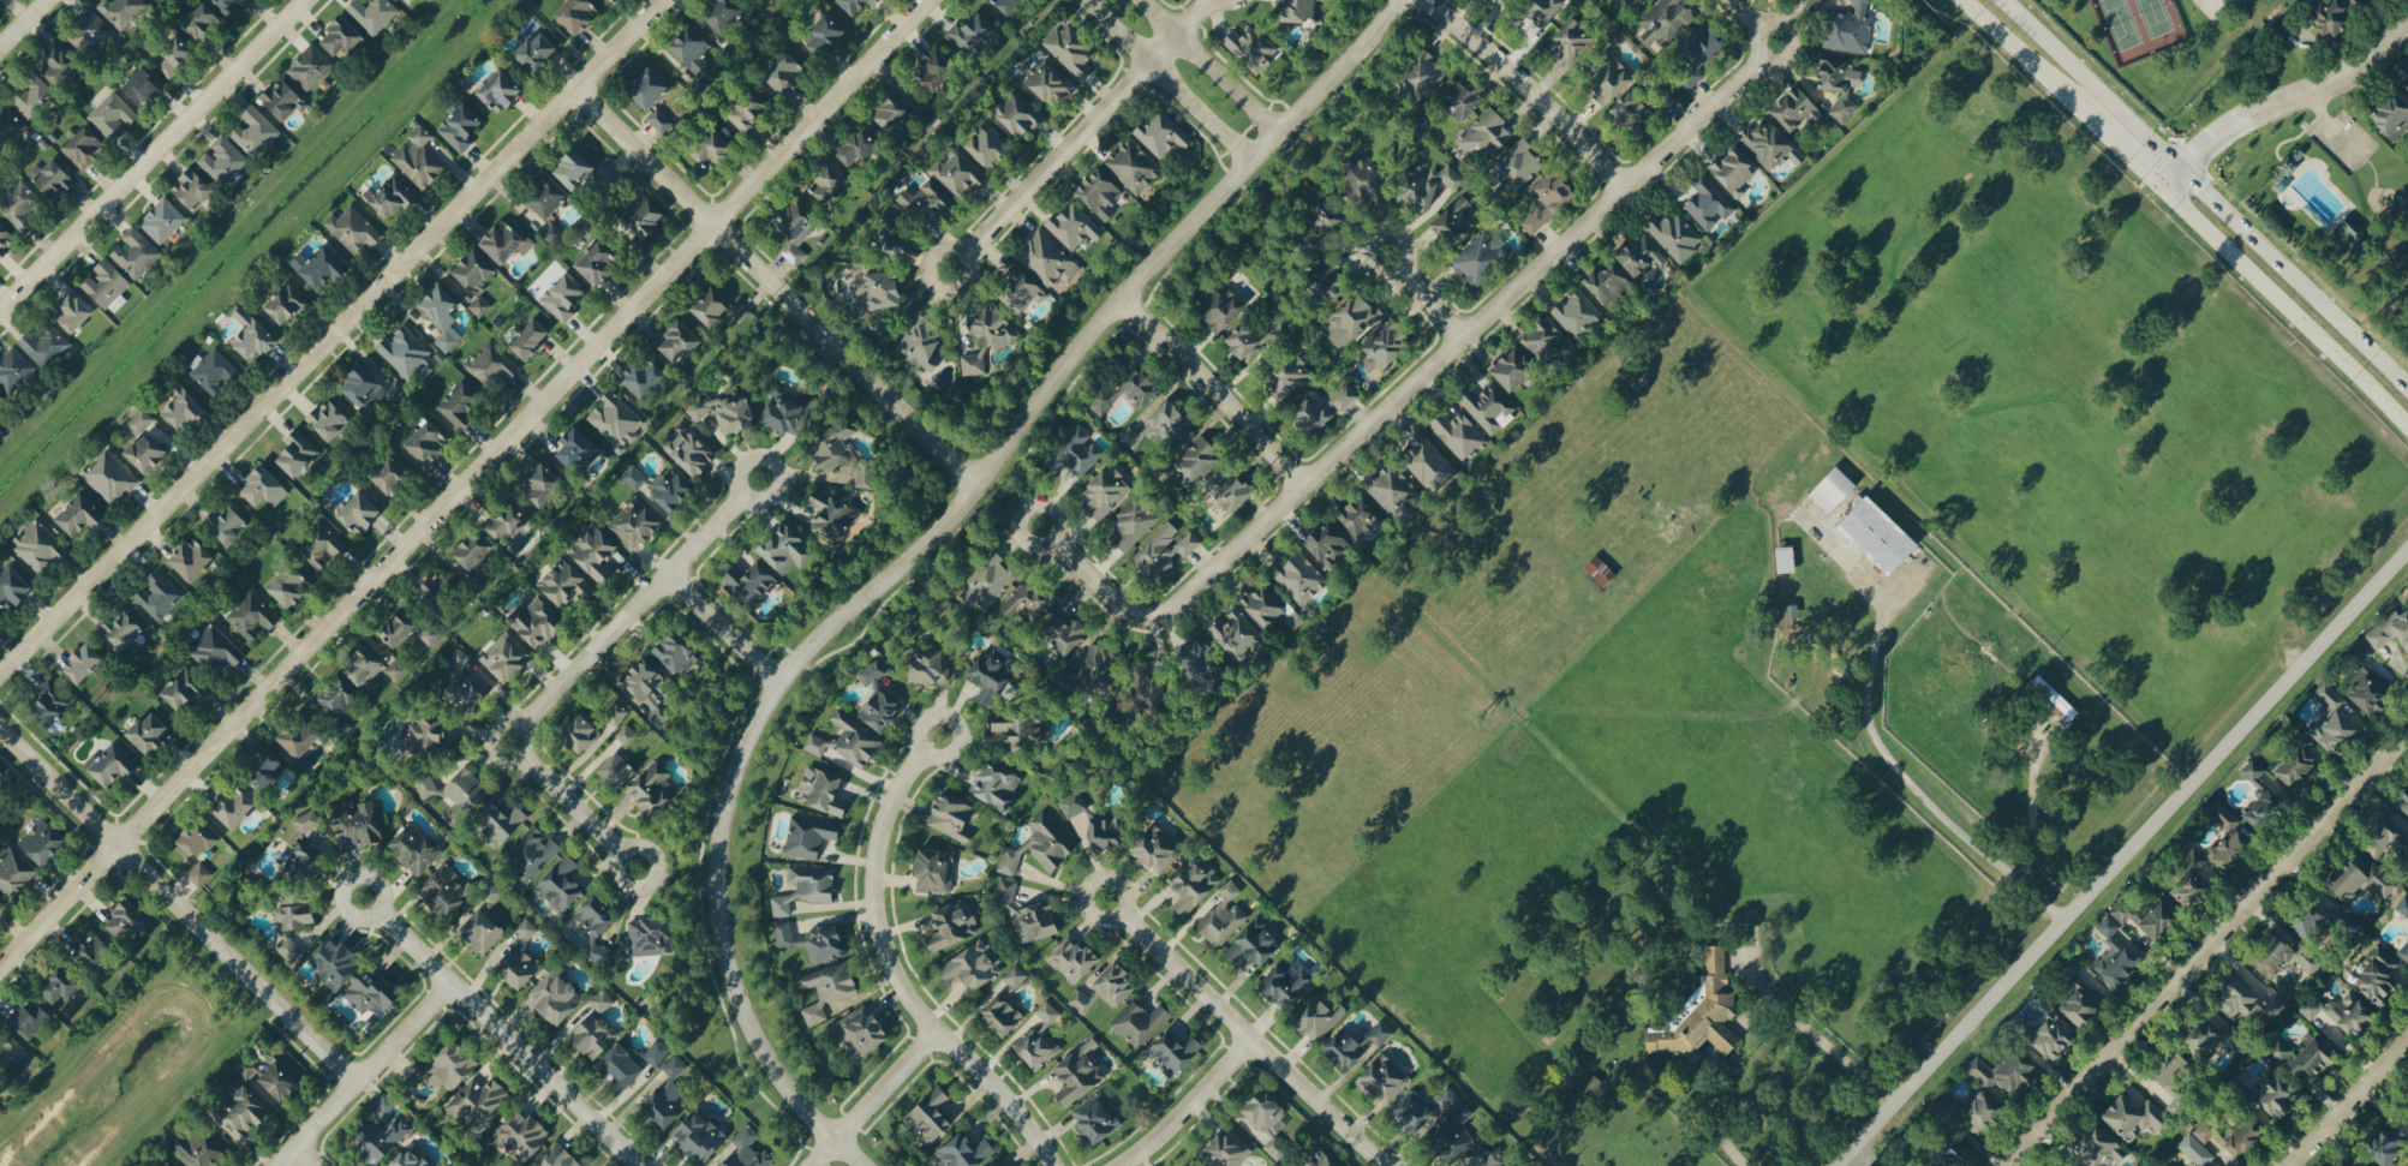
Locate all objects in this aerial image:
building: (398, 0)
building: (1498, 0)
building: (2377, 0)
building: (1620, 1)
building: (1645, 1)
building: (1811, 1)
building: (232, 4)
building: (859, 5)
building: (1009, 5)
building: (1299, 10)
building: (121, 11)
building: (1537, 11)
building: (579, 13)
building: (727, 13)
building: (374, 14)
building: (2337, 16)
building: (1669, 20)
road: (1751, 20)
building: (201, 23)
road: (28, 26)
building: (1850, 29)
building: (90, 32)
building: (973, 34)
building: (343, 36)
building: (827, 36)
park: (2156, 40)
building: (1571, 42)
building: (692, 46)
building: (1251, 48)
road: (2014, 48)
building: (1071, 50)
building: (538, 52)
building: (1701, 53)
building: (175, 55)
building: (59, 64)
building: (311, 67)
road: (1207, 67)
building: (938, 68)
building: (788, 73)
building: (1426, 77)
road: (1169, 80)
building: (1050, 82)
building: (1612, 82)
building: (1840, 82)
road: (2328, 83)
building: (143, 86)
building: (651, 88)
building: (501, 90)
road: (1526, 90)
building: (283, 98)
building: (1460, 98)
building: (34, 100)
building: (1631, 109)
building: (749, 110)
building: (1799, 110)
building: (894, 112)
building: (1018, 114)
building: (113, 115)
building: (2394, 115)
building: (659, 119)
building: (11, 122)
road: (1088, 126)
building: (461, 127)
building: (255, 131)
building: (1486, 132)
building: (1164, 134)
road: (2115, 144)
building: (860, 145)
building: (1768, 145)
building: (990, 147)
building: (713, 148)
building: (84, 149)
traffic signals: (2198, 150)
road: (2195, 153)
road: (153, 155)
building: (419, 159)
building: (225, 160)
building: (1518, 166)
building: (1135, 167)
building: (576, 169)
building: (1735, 171)
traffic signals: (2143, 171)
building: (610, 173)
building: (958, 174)
building: (54, 180)
building: (1366, 180)
building: (830, 181)
traffic signals: (2205, 185)
building: (193, 189)
road: (2210, 190)
building: (1101, 193)
building: (392, 196)
building: (550, 197)
building: (1550, 199)
building: (926, 203)
building: (1710, 203)
building: (20, 204)
park: (2335, 209)
building: (646, 216)
building: (1327, 217)
building: (163, 221)
building: (1458, 222)
building: (1075, 228)
building: (2353, 228)
building: (354, 229)
building: (797, 229)
building: (1675, 235)
building: (896, 237)
building: (6, 239)
building: (509, 240)
building: (136, 252)
building: (1641, 256)
building: (1483, 257)
building: (1047, 259)
building: (599, 263)
building: (323, 267)
building: (476, 270)
road: (964, 281)
building: (1331, 282)
building: (1611, 283)
building: (108, 286)
road: (776, 288)
building: (1022, 288)
building: (886, 289)
building: (564, 297)
road: (1424, 298)
building: (288, 303)
building: (480, 306)
building: (721, 307)
building: (1223, 310)
road: (2284, 310)
building: (74, 312)
building: (1579, 313)
building: (443, 317)
building: (1352, 319)
building: (993, 327)
road: (1468, 334)
building: (253, 336)
road: (333, 339)
building: (531, 339)
building: (681, 341)
building: (1249, 341)
building: (1548, 341)
building: (922, 342)
building: (46, 346)
building: (1387, 346)
building: (405, 352)
building: (492, 364)
building: (974, 364)
building: (1514, 369)
building: (214, 370)
building: (16, 372)
building: (1292, 373)
building: (645, 377)
building: (1141, 387)
building: (371, 389)
road: (1215, 391)
building: (1344, 400)
building: (2, 402)
building: (1103, 402)
building: (461, 405)
building: (185, 407)
building: (1490, 409)
building: (1313, 411)
building: (787, 413)
building: (728, 414)
building: (329, 419)
building: (141, 421)
building: (616, 421)
building: (1163, 426)
building: (402, 427)
building: (1460, 435)
building: (426, 442)
building: (835, 444)
building: (578, 449)
building: (1081, 452)
building: (147, 453)
building: (693, 453)
building: (299, 454)
building: (1199, 461)
building: (1432, 464)
building: (392, 474)
building: (867, 476)
building: (110, 477)
road: (464, 483)
building: (544, 485)
building: (662, 486)
building: (265, 488)
building: (1231, 490)
building: (1835, 490)
building: (1107, 492)
building: (1396, 494)
road: (765, 498)
road: (1054, 510)
building: (362, 513)
building: (80, 515)
building: (833, 516)
building: (1363, 518)
building: (510, 522)
building: (1135, 524)
building: (226, 525)
building: (635, 525)
building: (1880, 536)
building: (1330, 545)
building: (321, 546)
building: (40, 548)
building: (788, 549)
building: (1166, 549)
building: (474, 552)
building: (597, 552)
road: (919, 552)
building: (192, 560)
building: (1788, 560)
crop: (2167, 568)
building: (1602, 572)
building: (1301, 578)
building: (754, 582)
building: (988, 582)
building: (567, 584)
building: (291, 587)
building: (14, 588)
building: (441, 588)
road: (1100, 588)
building: (160, 596)
building: (1030, 603)
building: (1269, 608)
building: (252, 616)
road: (626, 620)
building: (538, 623)
road: (725, 628)
building: (123, 629)
building: (400, 630)
building: (2390, 632)
building: (1065, 633)
building: (431, 635)
building: (217, 651)
building: (676, 651)
building: (506, 660)
building: (86, 664)
building: (364, 665)
building: (931, 666)
building: (1207, 666)
building: (1100, 668)
building: (396, 670)
building: (992, 676)
building: (2367, 681)
building: (466, 683)
building: (1153, 689)
building: (185, 690)
building: (649, 690)
building: (879, 699)
building: (340, 700)
building: (50, 704)
building: (616, 714)
building: (2337, 722)
building: (1022, 730)
building: (581, 731)
building: (149, 734)
building: (423, 735)
building: (627, 735)
building: (300, 739)
building: (849, 741)
road: (1881, 748)
building: (113, 766)
building: (2298, 767)
building: (267, 770)
building: (620, 770)
building: (1, 775)
building: (998, 785)
building: (428, 787)
building: (655, 790)
building: (826, 793)
building: (465, 796)
building: (2263, 797)
building: (1074, 805)
road: (573, 806)
road: (2031, 806)
building: (2404, 806)
building: (234, 808)
building: (954, 818)
building: (307, 823)
building: (502, 824)
building: (358, 825)
building: (1109, 833)
building: (811, 836)
building: (2231, 839)
building: (2384, 839)
building: (198, 841)
building: (42, 842)
building: (1040, 847)
building: (416, 849)
building: (1158, 850)
building: (532, 854)
road: (2120, 857)
building: (305, 863)
building: (14, 871)
building: (936, 872)
building: (201, 875)
building: (2364, 878)
building: (813, 884)
building: (562, 885)
building: (1194, 885)
building: (2194, 886)
building: (448, 891)
building: (492, 895)
building: (1, 905)
building: (2403, 905)
road: (178, 907)
building: (782, 907)
building: (298, 911)
building: (2127, 911)
building: (1224, 916)
building: (2163, 920)
building: (2314, 920)
building: (127, 922)
building: (952, 926)
building: (482, 932)
building: (652, 937)
building: (815, 941)
building: (1255, 943)
building: (288, 947)
road: (2206, 949)
building: (2404, 950)
building: (92, 952)
building: (2117, 955)
building: (2287, 956)
building: (521, 958)
building: (1074, 958)
building: (336, 964)
building: (975, 964)
road: (891, 969)
building: (2380, 976)
building: (1289, 983)
building: (61, 986)
building: (1107, 989)
building: (375, 993)
building: (557, 997)
road: (1783, 999)
building: (2240, 999)
building: (602, 1001)
building: (1008, 1003)
building: (2084, 1004)
building: (2277, 1005)
building: (1047, 1012)
building: (2343, 1012)
building: (1703, 1015)
building: (1321, 1016)
building: (30, 1018)
building: (1142, 1022)
road: (500, 1032)
building: (864, 1033)
road: (1243, 1035)
building: (2221, 1036)
building: (2056, 1038)
building: (1358, 1042)
building: (1038, 1047)
building: (1176, 1051)
building: (2282, 1051)
building: (12, 1053)
building: (2314, 1059)
building: (632, 1062)
building: (246, 1066)
building: (448, 1066)
building: (2175, 1066)
building: (2007, 1071)
building: (1081, 1072)
road: (365, 1075)
building: (283, 1077)
building: (1386, 1078)
building: (1597, 1084)
building: (2277, 1093)
building: (668, 1095)
building: (1447, 1098)
road: (873, 1099)
building: (482, 1102)
road: (2349, 1102)
road: (1189, 1107)
building: (241, 1108)
building: (1418, 1111)
building: (1985, 1111)
building: (931, 1116)
building: (2138, 1116)
building: (1098, 1117)
building: (1268, 1120)
building: (2212, 1131)
building: (382, 1132)
building: (1456, 1132)
building: (522, 1135)
building: (2251, 1135)
building: (700, 1136)
building: (198, 1147)
building: (2103, 1147)
building: (2389, 1147)
building: (1230, 1149)
building: (749, 1150)
building: (967, 1152)
building: (1955, 1152)
building: (2199, 1153)
building: (1493, 1155)
building: (560, 1156)
building: (413, 1158)
road: (1857, 1158)
road: (303, 1159)
building: (1321, 1159)
building: (999, 1162)
building: (2362, 1162)
building: (1191, 1164)
building: (171, 1165)

